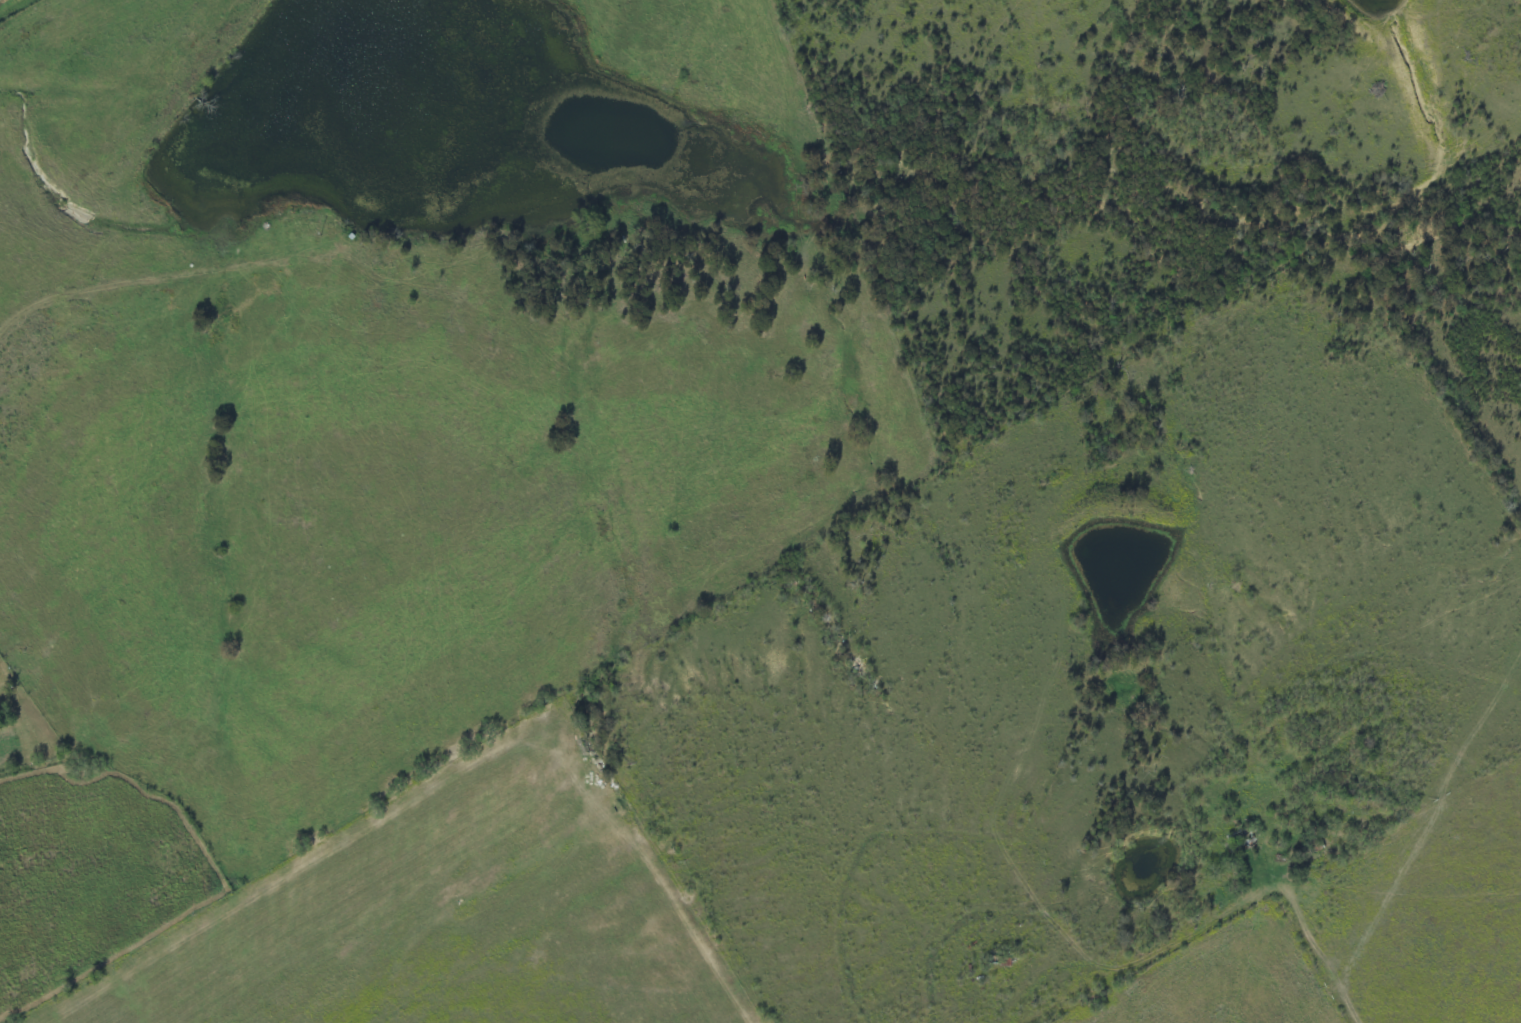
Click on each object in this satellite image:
road: (105, 346)

